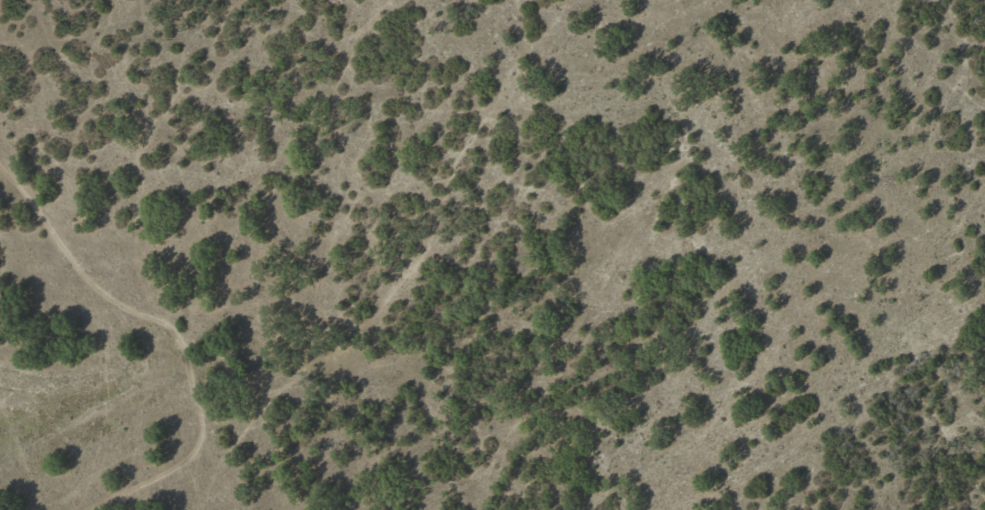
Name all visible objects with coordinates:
road: (149, 347)
road: (90, 437)

